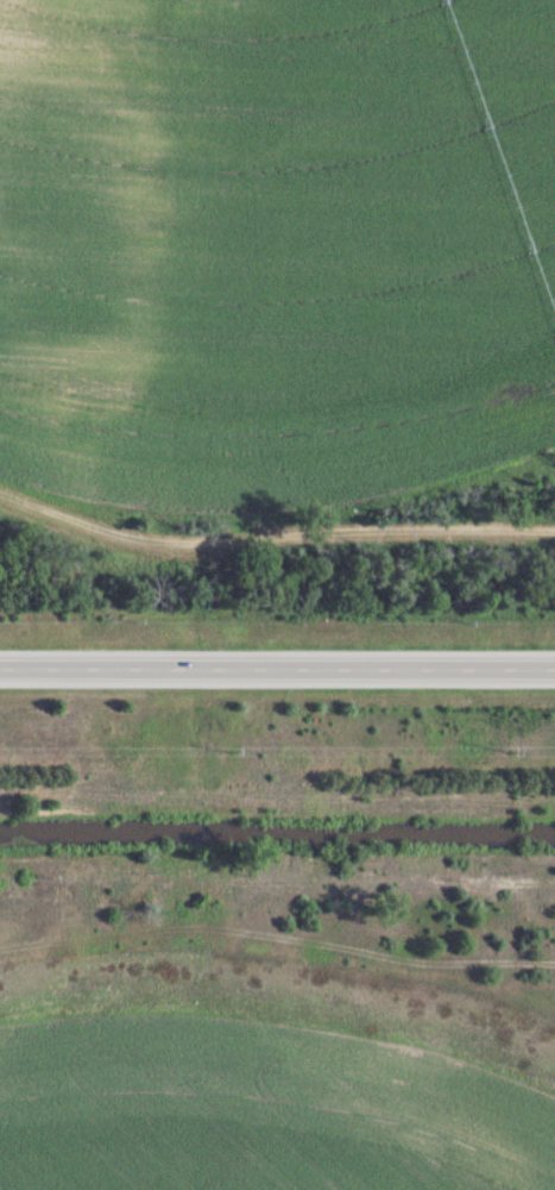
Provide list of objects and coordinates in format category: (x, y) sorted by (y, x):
road: (277, 666)

